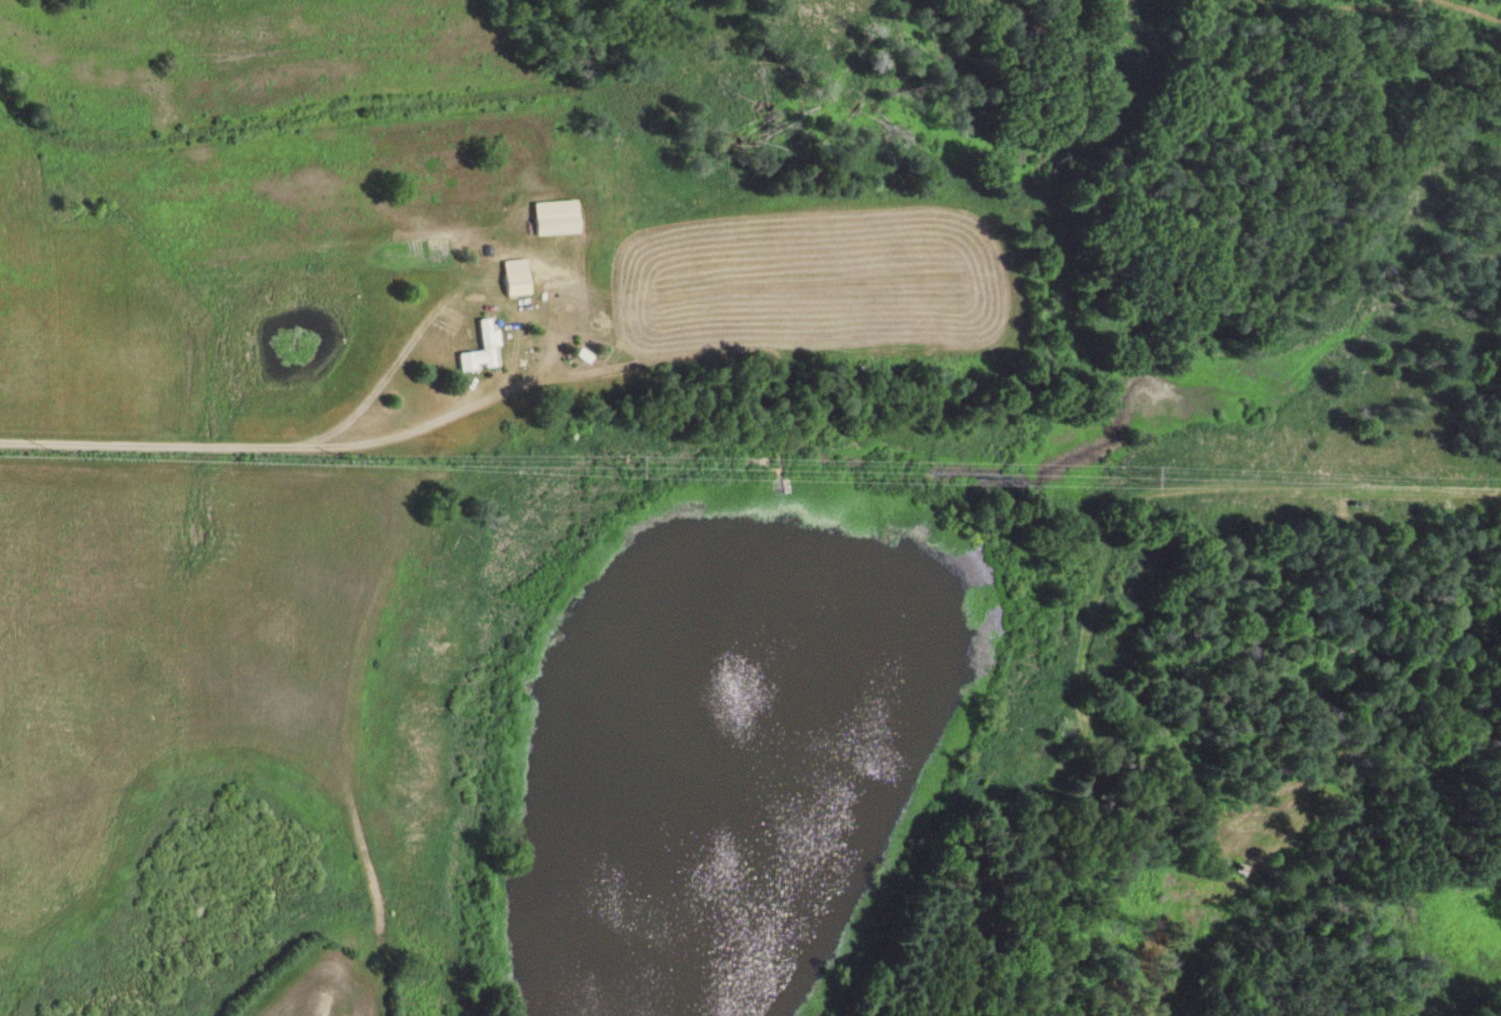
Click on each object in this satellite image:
building: (549, 217)
building: (512, 275)
building: (479, 348)
power tower: (609, 465)
power tower: (1126, 479)
building: (1237, 872)

